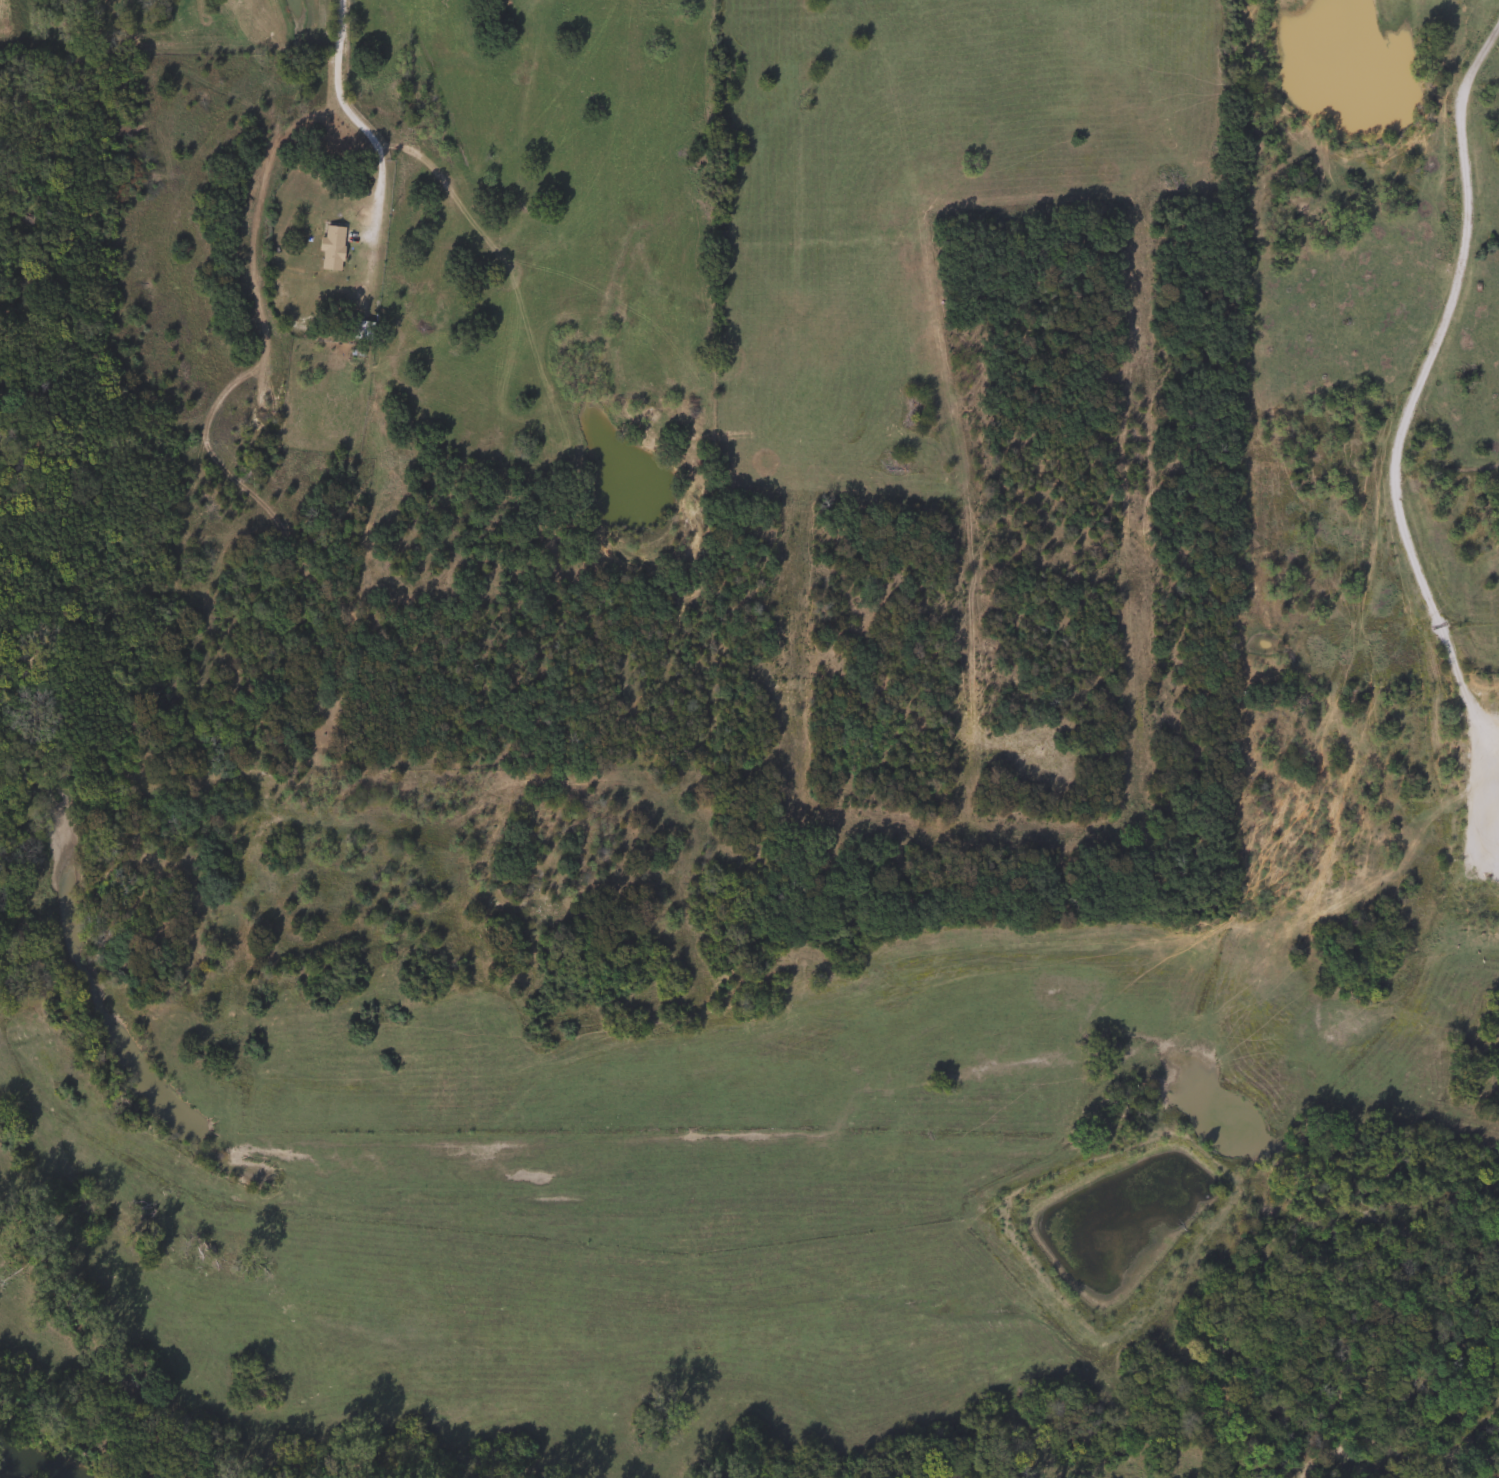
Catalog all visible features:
road: (346, 112)
building: (330, 246)
road: (1417, 384)
river: (36, 1456)

